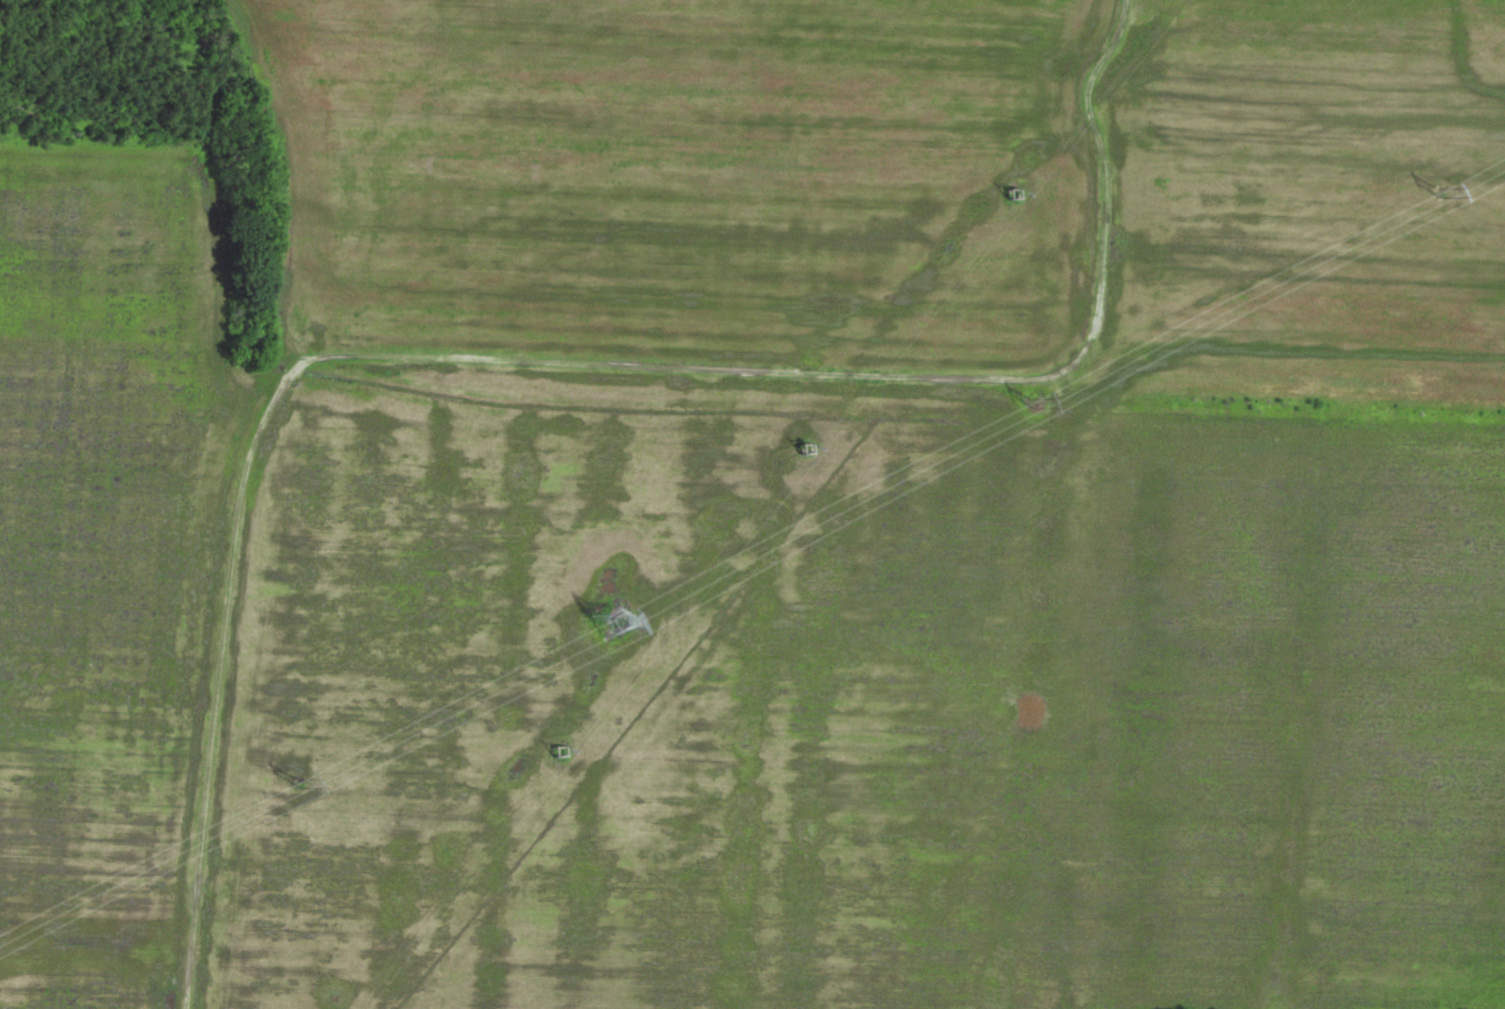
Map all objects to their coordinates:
power tower: (1448, 195)
power tower: (1032, 407)
building: (805, 448)
power tower: (614, 627)
power tower: (300, 792)

